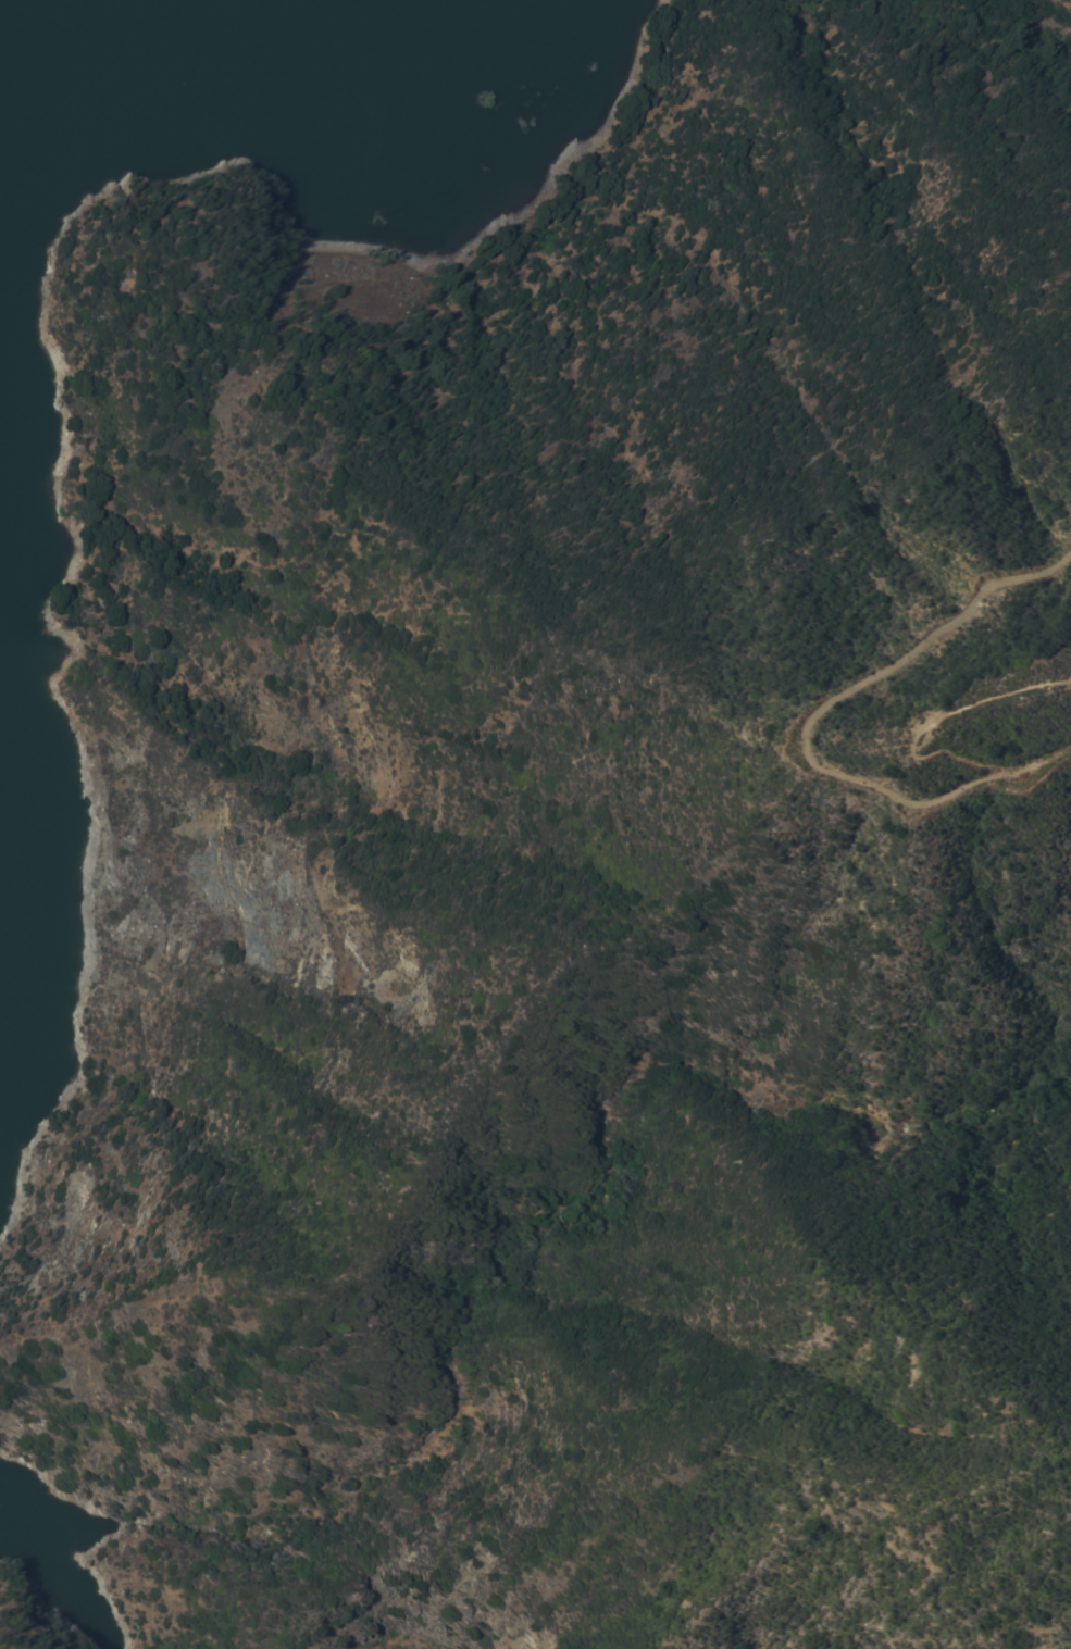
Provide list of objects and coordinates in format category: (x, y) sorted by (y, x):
river: (71, 61)
river: (153, 134)
river: (8, 141)
road: (937, 714)
road: (811, 722)

